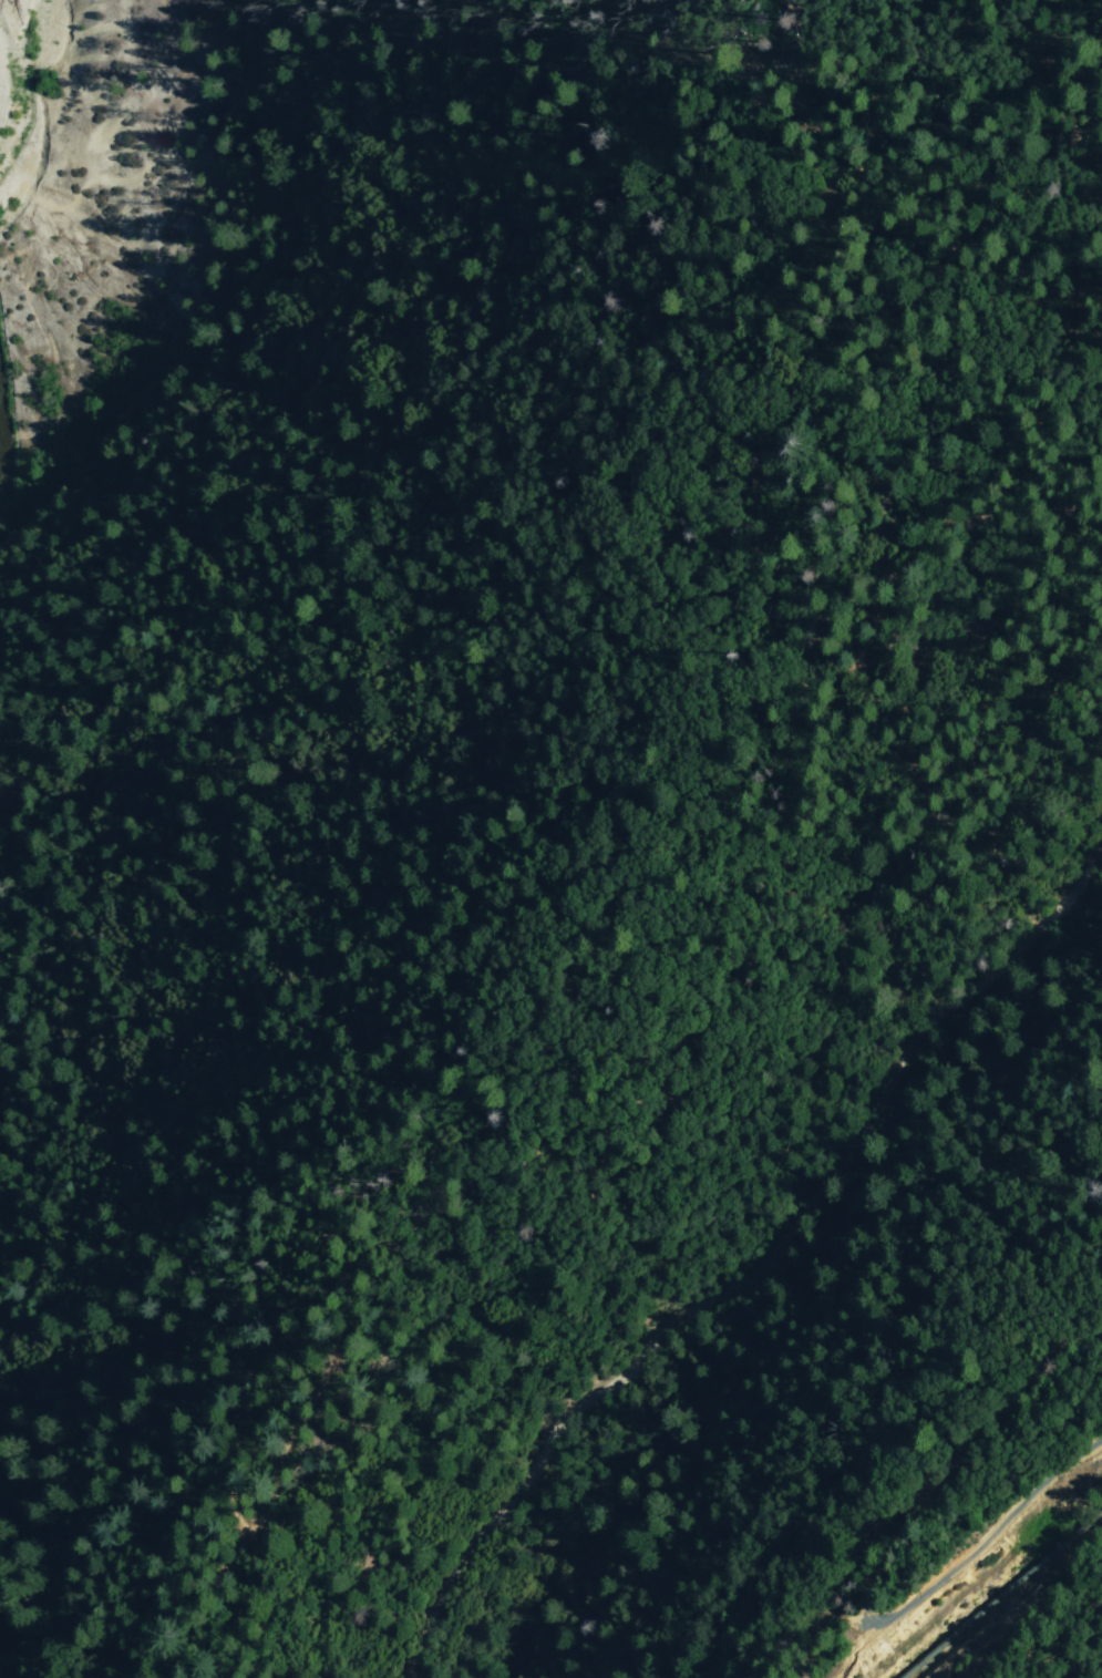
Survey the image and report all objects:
road: (754, 1258)

